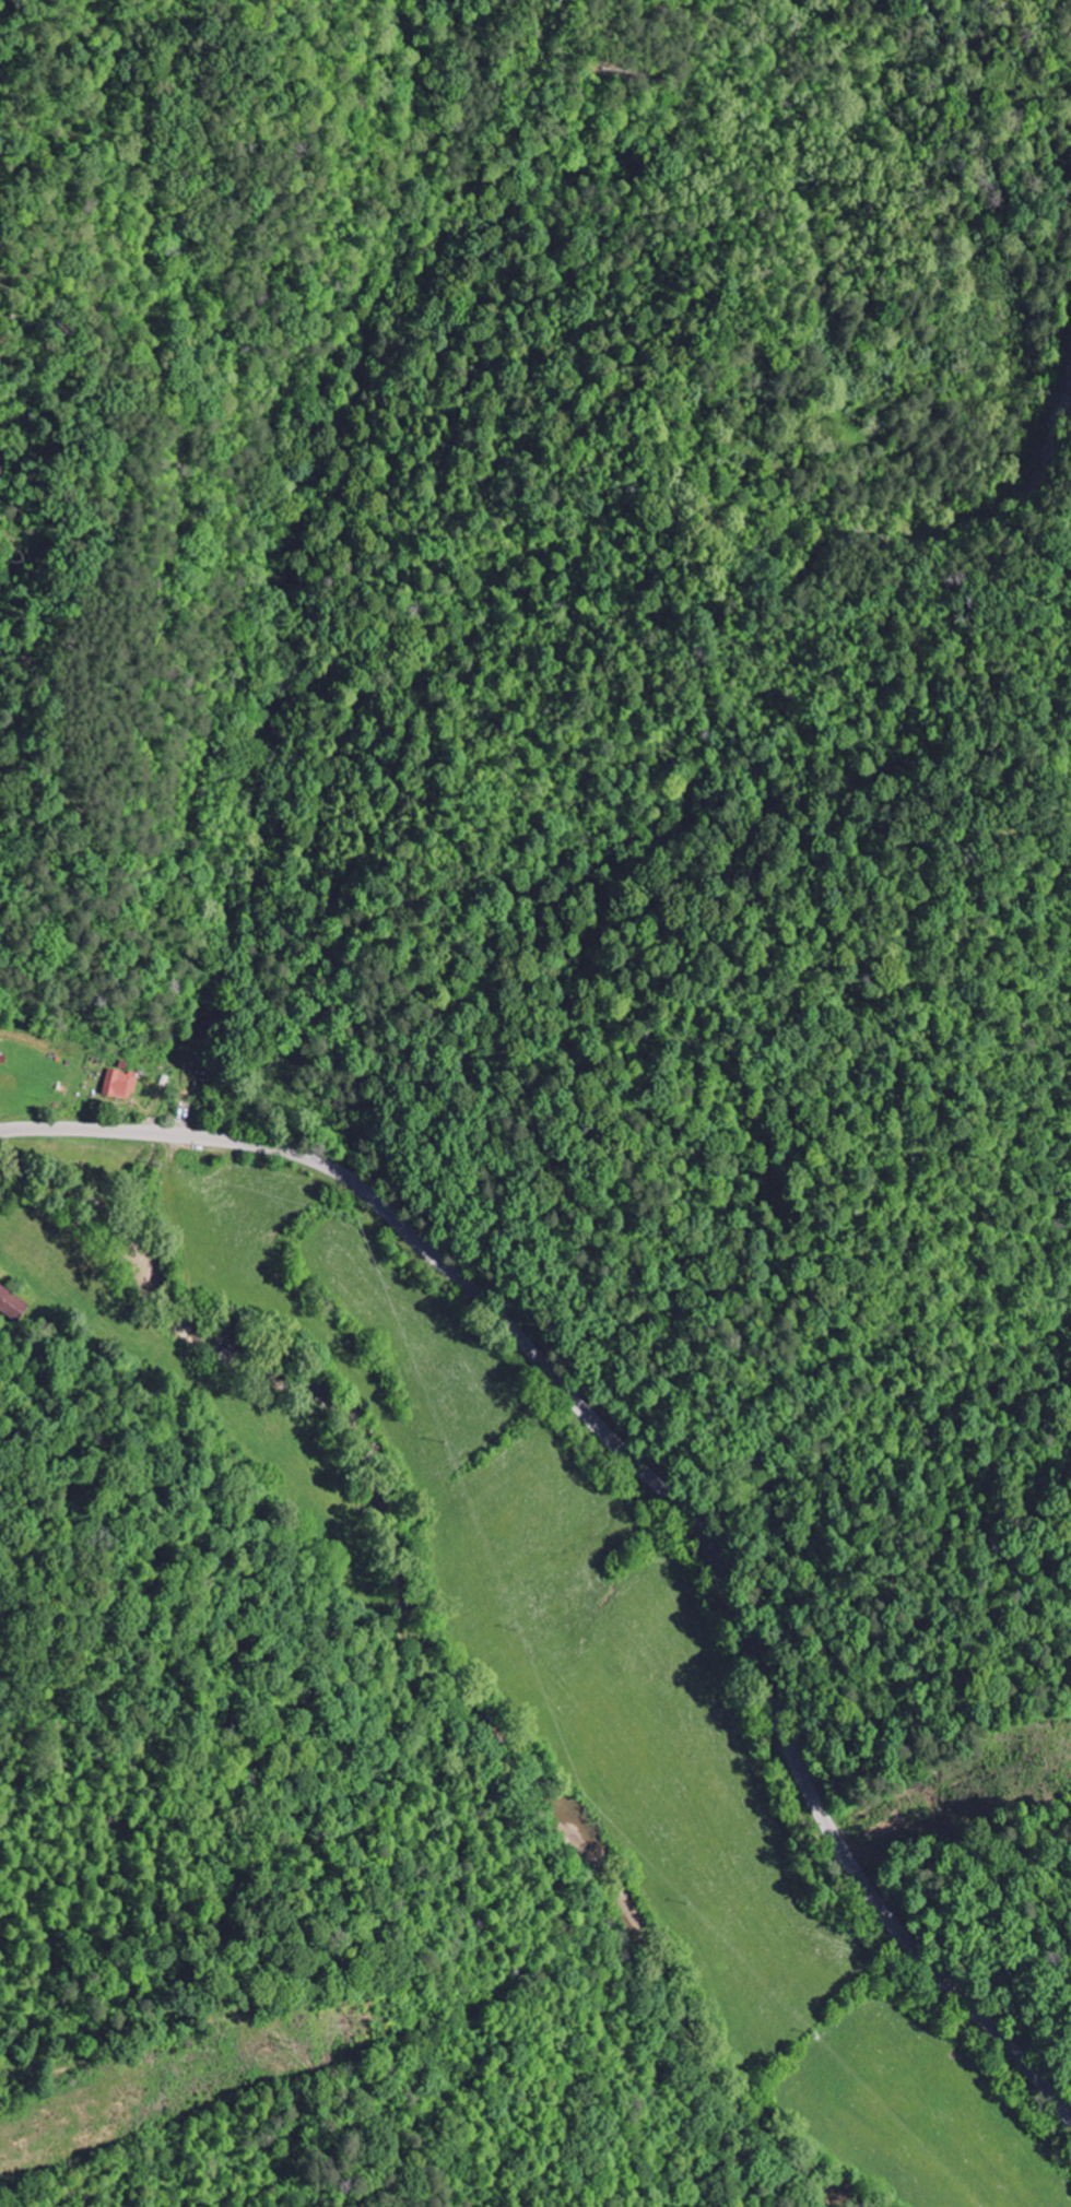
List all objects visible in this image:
building: (119, 1085)
building: (13, 1302)
road: (648, 1475)

